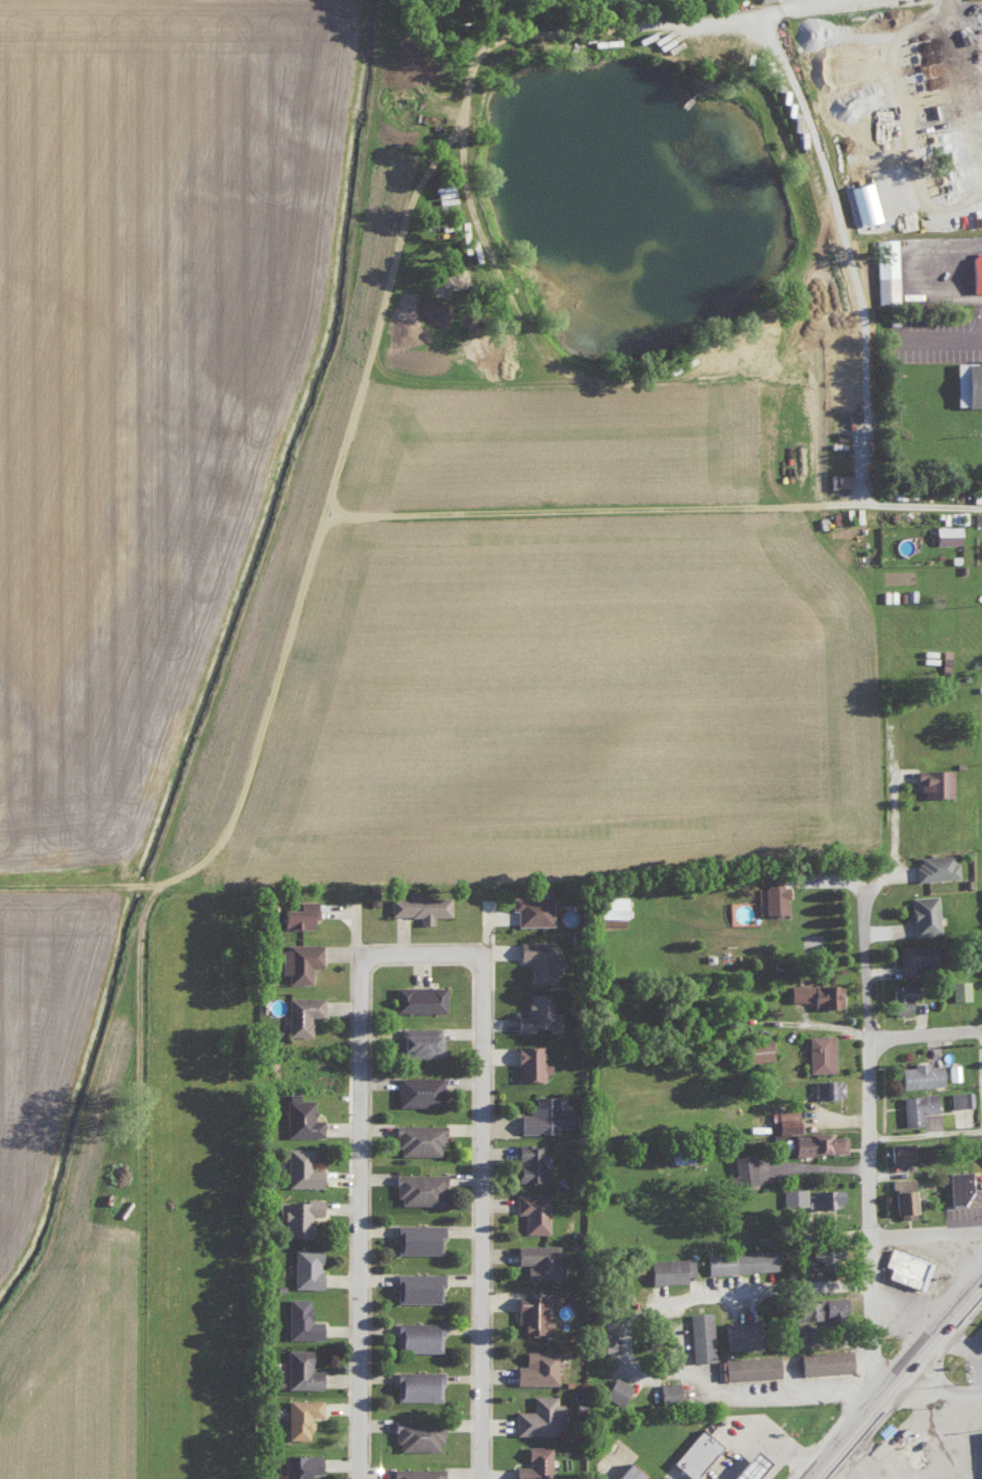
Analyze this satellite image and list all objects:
road: (814, 134)
building: (885, 270)
building: (976, 271)
road: (922, 274)
road: (945, 344)
building: (970, 382)
road: (347, 408)
building: (838, 479)
building: (977, 516)
building: (945, 533)
building: (933, 781)
building: (934, 865)
building: (772, 898)
building: (419, 905)
building: (611, 906)
building: (531, 908)
building: (922, 913)
building: (296, 914)
road: (501, 917)
road: (487, 928)
building: (915, 956)
building: (537, 958)
building: (298, 960)
building: (980, 966)
building: (959, 989)
building: (815, 993)
building: (899, 997)
building: (418, 998)
building: (534, 1011)
building: (301, 1013)
road: (981, 1033)
road: (927, 1034)
building: (418, 1040)
building: (755, 1049)
building: (819, 1052)
building: (529, 1061)
building: (919, 1074)
building: (827, 1087)
building: (418, 1089)
road: (876, 1098)
building: (960, 1098)
building: (915, 1106)
building: (543, 1115)
building: (300, 1116)
building: (782, 1119)
building: (418, 1138)
road: (930, 1139)
building: (816, 1142)
building: (899, 1150)
road: (354, 1151)
building: (528, 1162)
building: (301, 1168)
building: (742, 1168)
building: (956, 1186)
building: (417, 1188)
building: (792, 1196)
building: (824, 1197)
building: (902, 1197)
building: (533, 1211)
building: (299, 1215)
road: (479, 1216)
building: (417, 1237)
road: (931, 1238)
building: (819, 1252)
building: (537, 1259)
building: (745, 1261)
building: (305, 1267)
building: (905, 1267)
building: (662, 1269)
building: (416, 1286)
road: (779, 1294)
building: (817, 1308)
building: (531, 1313)
building: (300, 1319)
building: (739, 1334)
building: (416, 1335)
building: (979, 1335)
building: (700, 1336)
building: (603, 1340)
building: (821, 1360)
building: (747, 1365)
building: (536, 1367)
building: (300, 1369)
road: (897, 1380)
building: (416, 1384)
building: (615, 1389)
building: (668, 1390)
road: (935, 1391)
road: (741, 1399)
building: (300, 1416)
building: (539, 1416)
building: (416, 1433)
building: (693, 1452)
road: (863, 1458)
building: (533, 1463)
building: (300, 1465)
building: (747, 1466)
building: (625, 1472)
building: (416, 1473)

